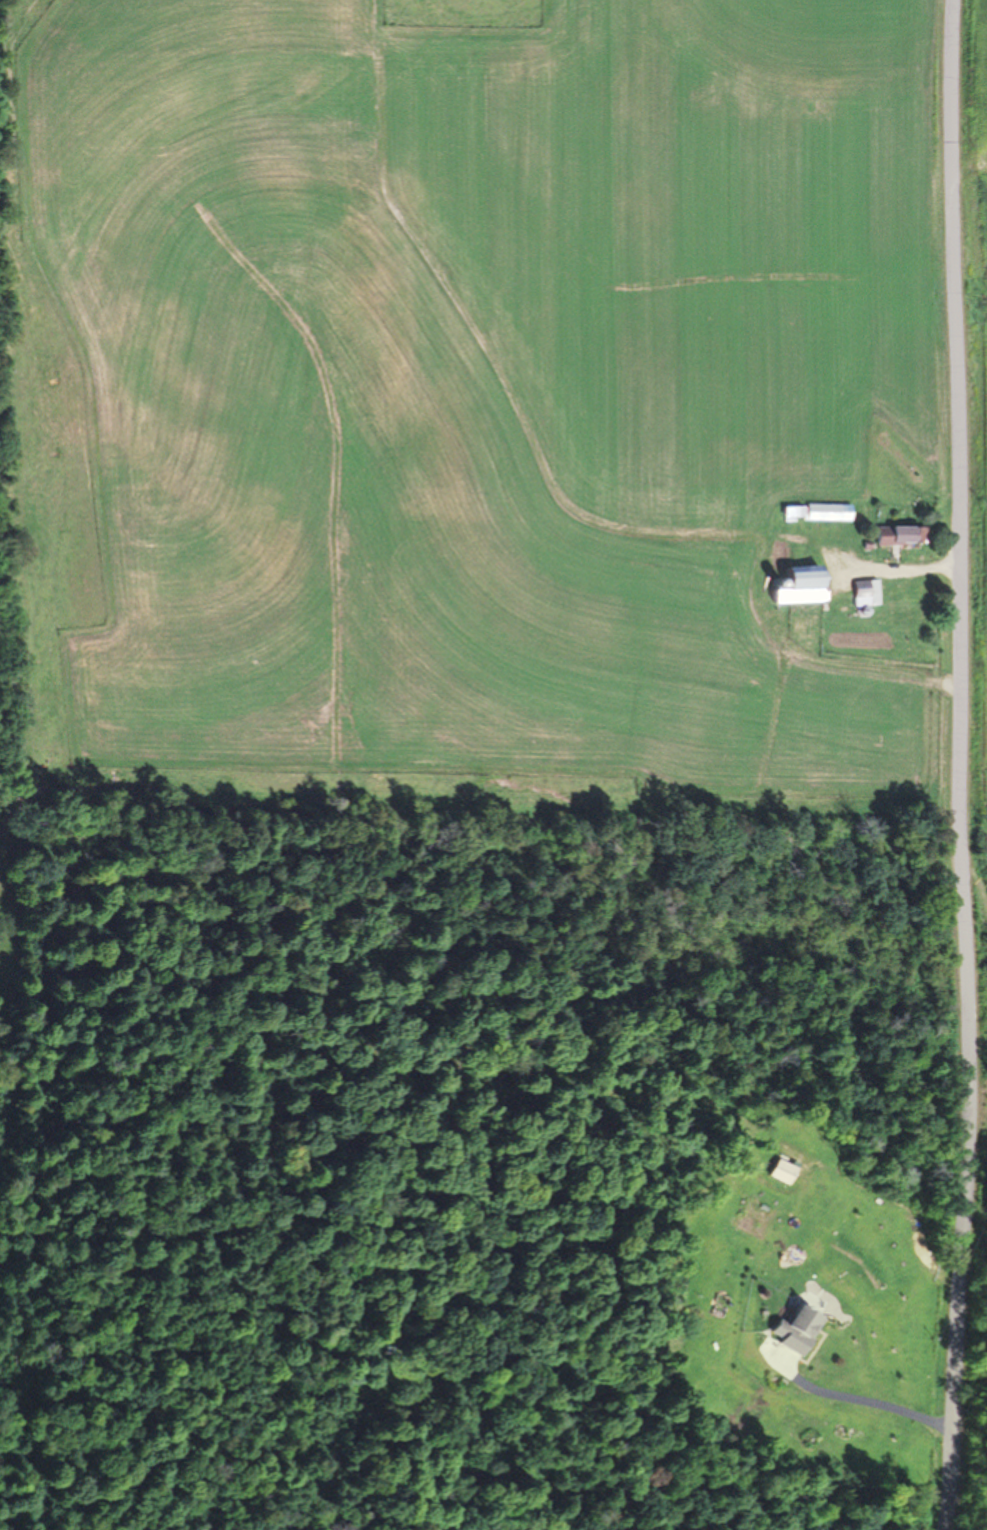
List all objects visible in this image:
building: (827, 512)
building: (896, 535)
building: (799, 585)
building: (866, 593)
road: (960, 765)
building: (795, 1329)
road: (865, 1402)

